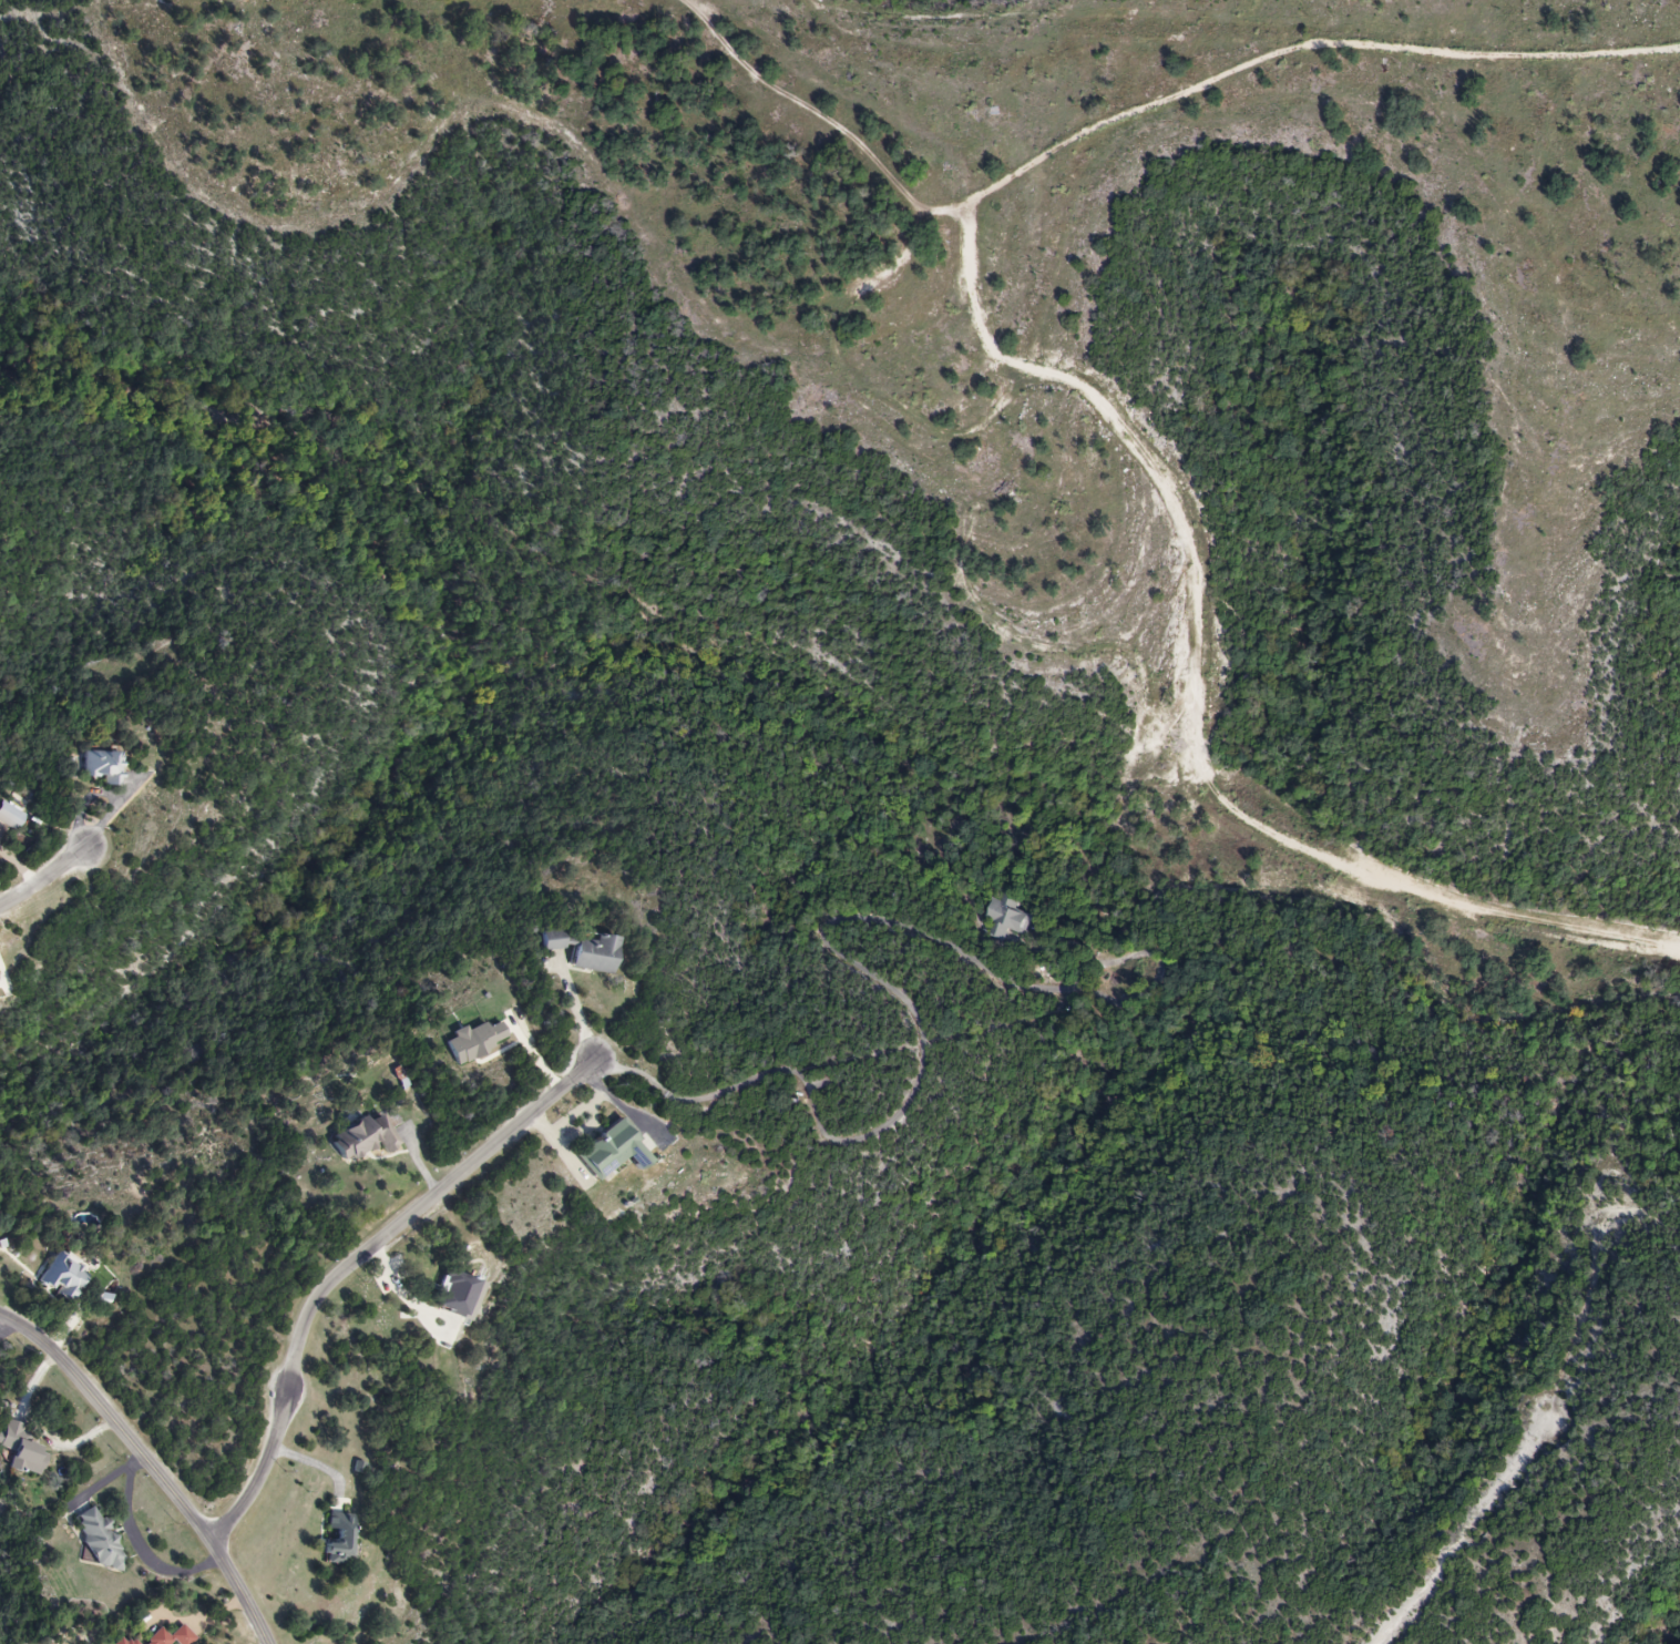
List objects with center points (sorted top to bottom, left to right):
building: (102, 766)
building: (8, 817)
road: (42, 876)
building: (1003, 919)
building: (582, 950)
road: (586, 1009)
road: (920, 1031)
building: (474, 1041)
building: (362, 1138)
building: (611, 1151)
road: (350, 1263)
building: (61, 1278)
road: (400, 1293)
building: (454, 1294)
road: (39, 1430)
building: (20, 1450)
road: (152, 1462)
building: (338, 1538)
building: (99, 1541)
road: (1461, 1541)
building: (172, 1637)
building: (117, 1642)
building: (131, 1642)

